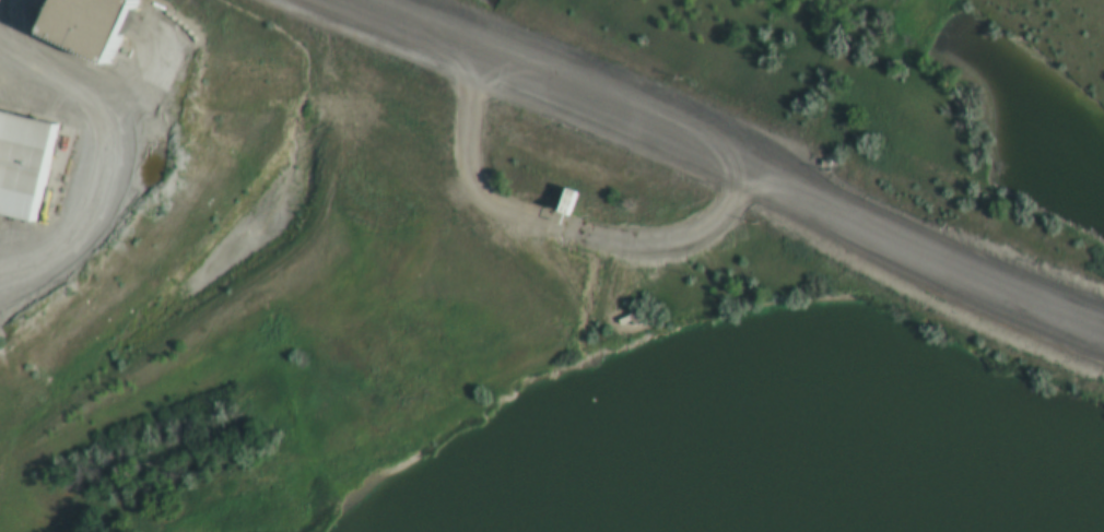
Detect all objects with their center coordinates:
building: (36, 154)
road: (717, 162)
road: (108, 168)
road: (509, 212)
road: (659, 247)

